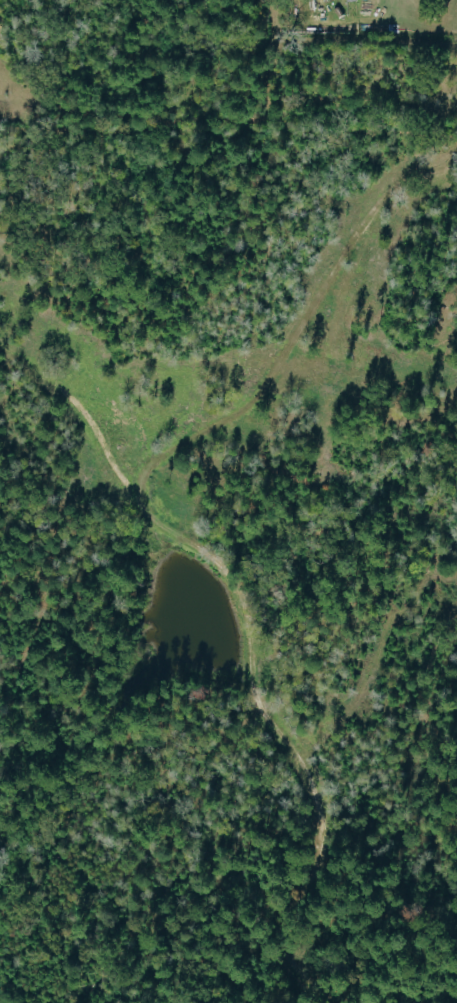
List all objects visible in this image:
road: (173, 534)

